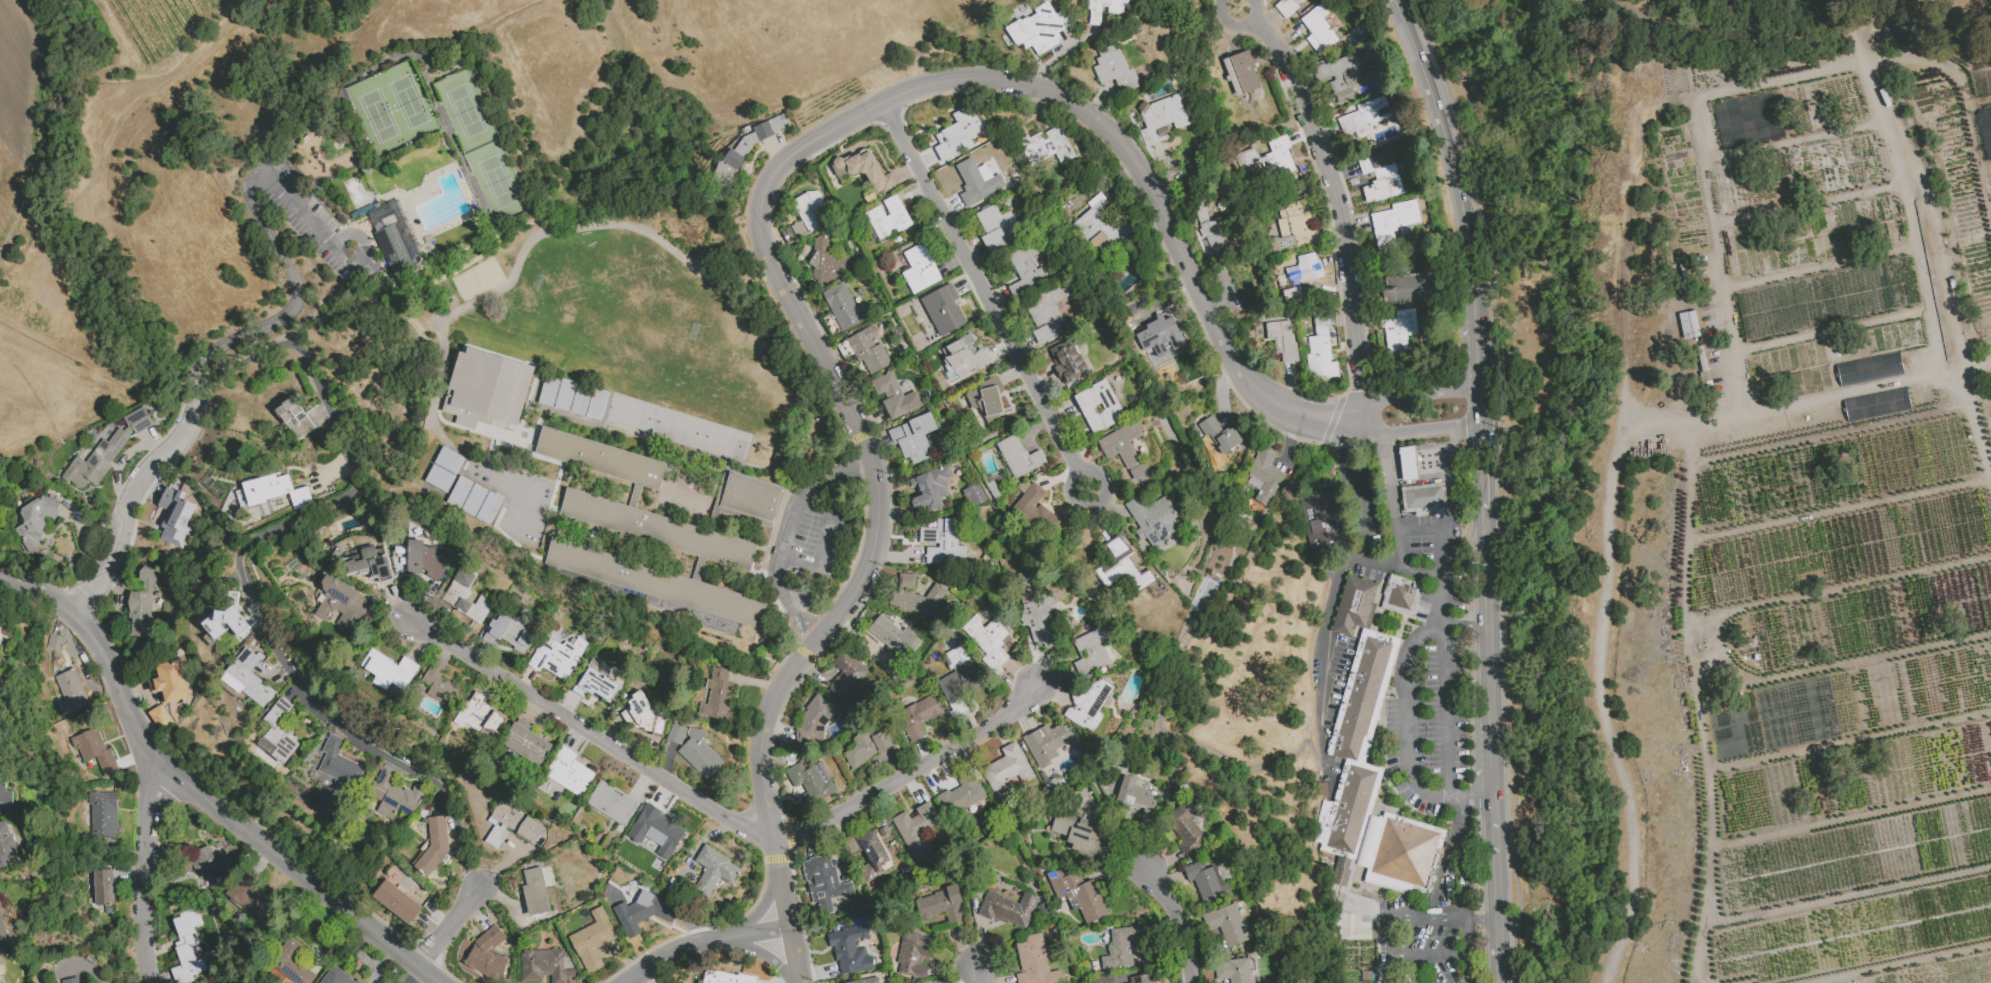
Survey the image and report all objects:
building: (1286, 6)
building: (1104, 9)
building: (1860, 21)
building: (1908, 21)
building: (1038, 29)
building: (1317, 29)
building: (1870, 43)
road: (1858, 49)
road: (1060, 54)
building: (1114, 70)
building: (1240, 73)
building: (1341, 76)
road: (1780, 80)
park: (409, 100)
park: (465, 108)
park: (376, 113)
building: (1365, 116)
road: (853, 117)
building: (1160, 118)
building: (957, 134)
building: (1045, 147)
road: (1977, 154)
building: (1266, 160)
road: (1985, 167)
building: (865, 170)
building: (1380, 176)
park: (496, 179)
building: (977, 181)
road: (1466, 209)
road: (1338, 210)
building: (810, 213)
road: (1912, 215)
building: (887, 217)
parking lot: (309, 221)
building: (1392, 222)
building: (1101, 224)
building: (1289, 225)
building: (997, 227)
building: (378, 231)
road: (554, 231)
building: (1214, 234)
building: (397, 243)
road: (275, 244)
road: (1719, 258)
building: (826, 262)
road: (1823, 266)
building: (919, 269)
building: (1027, 271)
building: (1299, 276)
building: (1406, 289)
road: (986, 296)
building: (844, 307)
building: (942, 309)
building: (1046, 313)
road: (300, 327)
building: (1690, 327)
building: (1398, 329)
road: (1834, 332)
building: (1160, 336)
building: (1281, 339)
building: (868, 349)
building: (1319, 355)
building: (964, 356)
building: (1703, 360)
building: (1067, 361)
road: (1968, 366)
building: (1869, 369)
road: (200, 387)
building: (487, 388)
building: (894, 396)
building: (572, 397)
building: (986, 399)
building: (1876, 404)
building: (1098, 406)
road: (1782, 410)
road: (1301, 416)
building: (294, 418)
building: (1808, 420)
building: (495, 431)
building: (1219, 434)
building: (912, 437)
building: (105, 450)
building: (1125, 450)
road: (964, 452)
building: (1018, 457)
building: (1407, 462)
road: (1408, 464)
road: (1395, 465)
building: (444, 469)
road: (1480, 471)
building: (1265, 474)
road: (1450, 478)
road: (1351, 484)
road: (1502, 485)
road: (1613, 486)
building: (266, 488)
building: (928, 490)
building: (973, 495)
building: (299, 497)
building: (1423, 498)
building: (473, 499)
road: (1394, 505)
building: (1035, 511)
building: (174, 516)
building: (1153, 518)
building: (35, 521)
building: (1321, 525)
road: (1419, 530)
building: (641, 534)
road: (785, 536)
building: (942, 541)
building: (399, 561)
building: (1121, 566)
road: (1484, 575)
road: (1443, 579)
building: (466, 595)
building: (1401, 595)
building: (916, 597)
building: (142, 604)
building: (1355, 604)
building: (341, 605)
building: (1034, 610)
road: (1333, 611)
road: (1118, 616)
building: (227, 622)
road: (1467, 628)
building: (507, 634)
building: (894, 636)
building: (987, 639)
building: (1747, 647)
building: (1091, 649)
building: (556, 656)
building: (388, 669)
building: (958, 675)
building: (846, 676)
building: (248, 678)
building: (67, 680)
building: (440, 684)
building: (598, 684)
building: (167, 692)
road: (1166, 694)
building: (718, 695)
building: (1362, 695)
building: (1089, 703)
building: (479, 715)
building: (645, 715)
road: (1447, 715)
building: (917, 716)
building: (814, 721)
road: (337, 722)
building: (1, 728)
building: (278, 732)
road: (594, 733)
road: (1407, 737)
building: (527, 743)
building: (1047, 743)
building: (865, 747)
building: (695, 749)
building: (95, 751)
building: (338, 765)
road: (1323, 766)
building: (1005, 769)
building: (567, 770)
building: (1, 771)
road: (913, 775)
building: (810, 779)
road: (1494, 779)
road: (766, 781)
road: (1058, 788)
road: (196, 795)
building: (394, 795)
building: (961, 795)
building: (1133, 795)
building: (611, 802)
road: (1463, 802)
building: (1348, 810)
building: (103, 814)
building: (516, 821)
road: (1114, 821)
building: (1186, 829)
building: (656, 830)
building: (916, 830)
building: (1081, 836)
building: (434, 845)
building: (6, 846)
building: (872, 853)
building: (1404, 855)
building: (205, 862)
road: (143, 869)
building: (713, 869)
building: (1205, 880)
building: (823, 882)
building: (103, 887)
building: (535, 891)
building: (1077, 893)
building: (250, 898)
building: (396, 901)
building: (940, 905)
road: (968, 905)
building: (1008, 908)
road: (759, 909)
building: (1352, 909)
building: (644, 911)
road: (1483, 920)
road: (1396, 921)
road: (1177, 922)
building: (1226, 924)
road: (1466, 936)
building: (8, 937)
building: (592, 940)
road: (701, 941)
building: (187, 946)
building: (1120, 947)
building: (849, 949)
road: (1501, 952)
building: (487, 954)
road: (761, 954)
building: (913, 954)
road: (794, 955)
road: (1427, 955)
building: (292, 962)
building: (1034, 962)
road: (84, 965)
building: (546, 965)
road: (1466, 968)
building: (1233, 970)
road: (978, 974)
building: (338, 976)
building: (726, 977)
building: (1142, 978)
building: (1104, 979)
building: (70, 980)
building: (865, 980)

